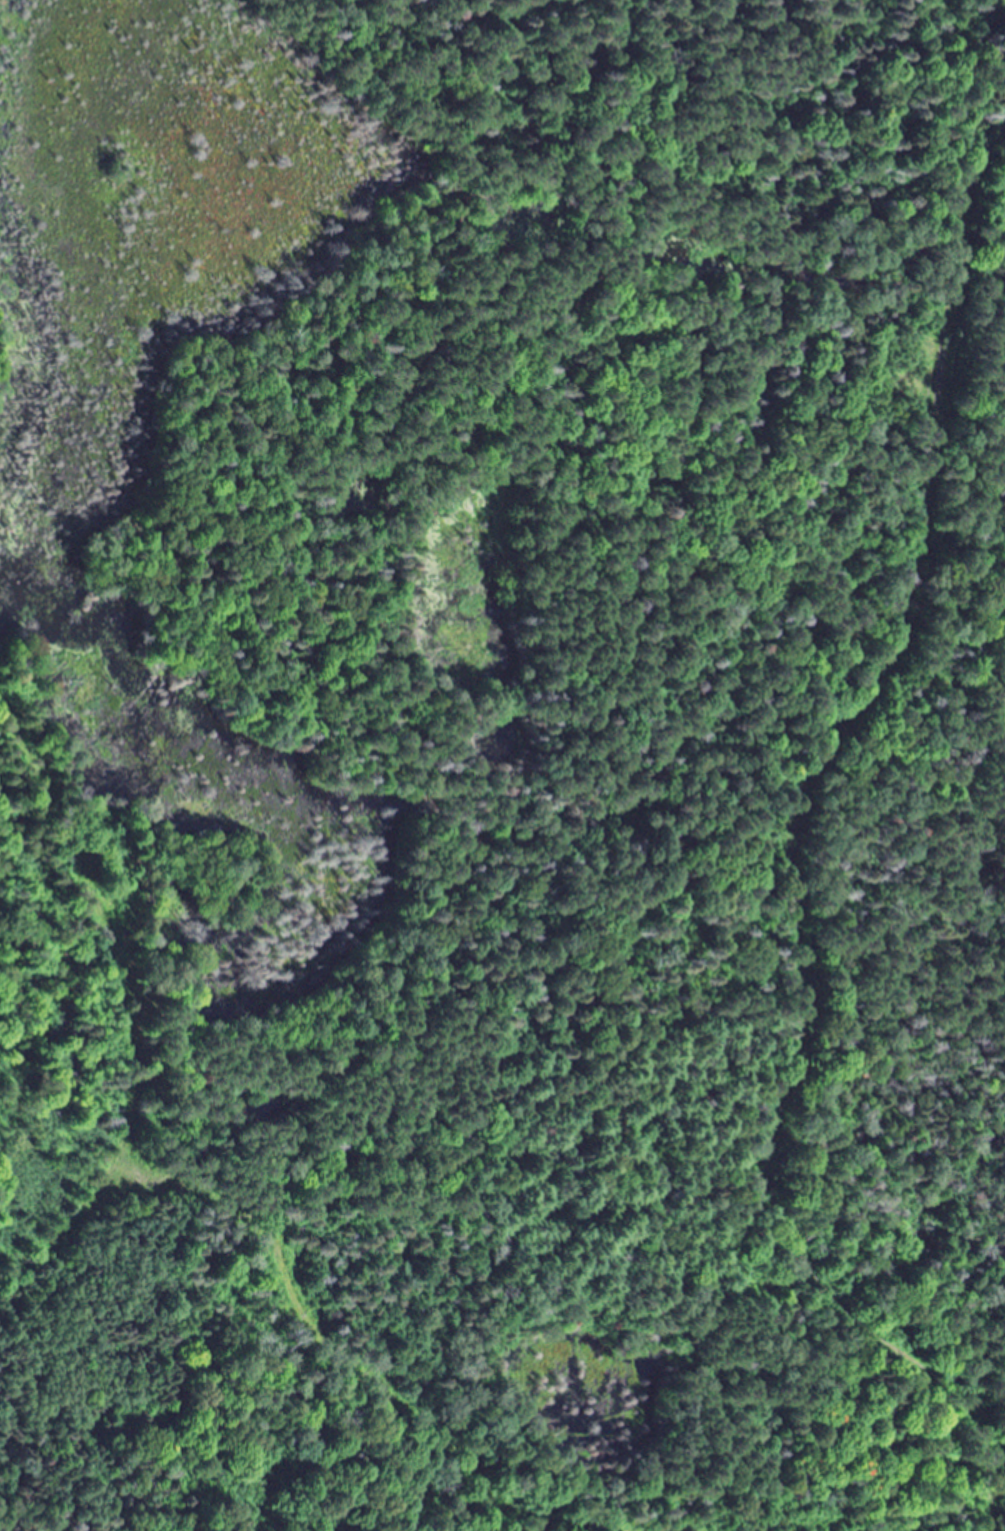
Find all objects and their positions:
road: (793, 856)

